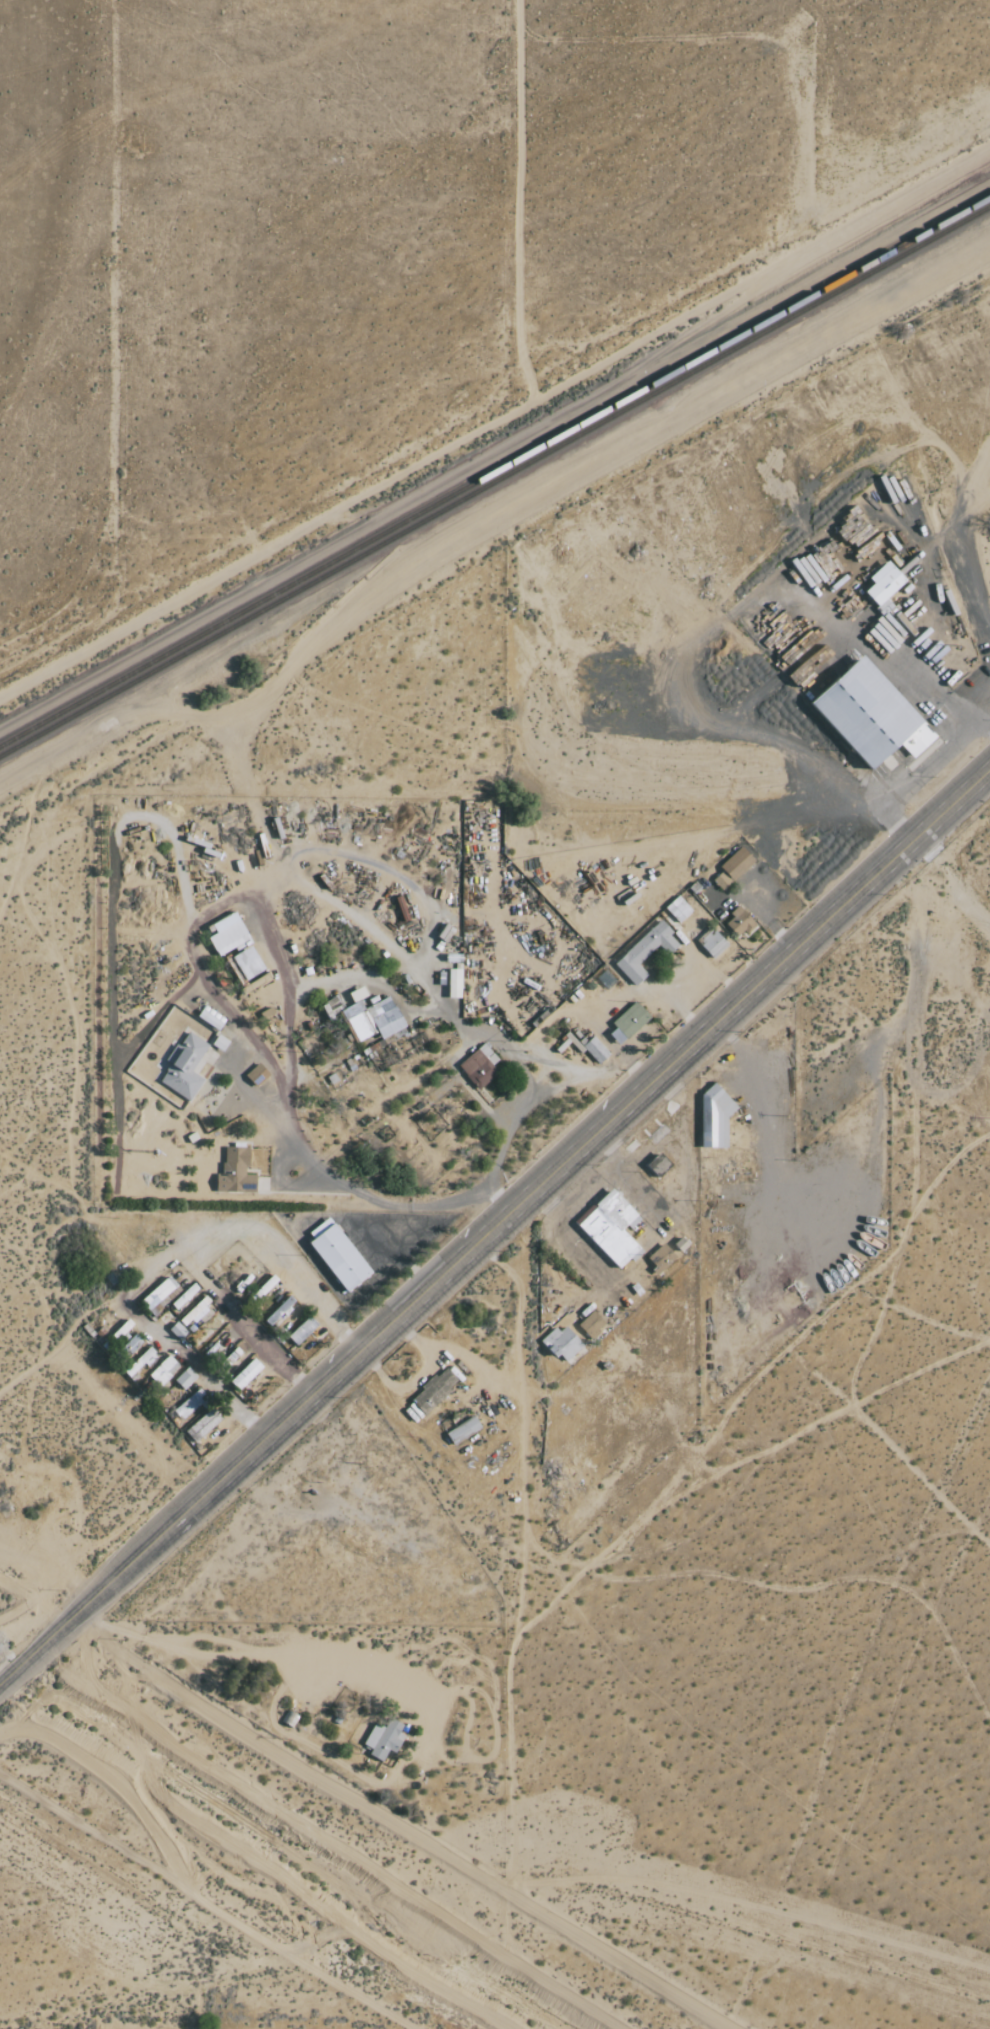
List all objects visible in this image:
railway: (495, 471)
railway: (495, 480)
building: (884, 583)
building: (872, 715)
road: (917, 772)
building: (737, 863)
building: (721, 881)
building: (739, 922)
building: (229, 935)
building: (712, 943)
building: (645, 951)
building: (454, 984)
road: (696, 990)
road: (609, 1003)
building: (332, 1006)
building: (372, 1017)
road: (237, 1023)
building: (629, 1023)
building: (220, 1043)
building: (596, 1050)
building: (184, 1067)
building: (480, 1067)
road: (542, 1093)
road: (627, 1104)
building: (714, 1119)
building: (235, 1173)
building: (610, 1228)
building: (337, 1255)
building: (660, 1258)
road: (165, 1259)
building: (158, 1294)
building: (184, 1296)
building: (195, 1311)
building: (279, 1311)
road: (246, 1321)
building: (591, 1325)
building: (177, 1331)
building: (302, 1331)
building: (562, 1344)
building: (131, 1345)
building: (138, 1362)
building: (163, 1371)
building: (246, 1374)
building: (185, 1378)
building: (434, 1391)
building: (189, 1404)
building: (203, 1425)
building: (462, 1430)
road: (132, 1560)
road: (243, 1654)
building: (383, 1738)

